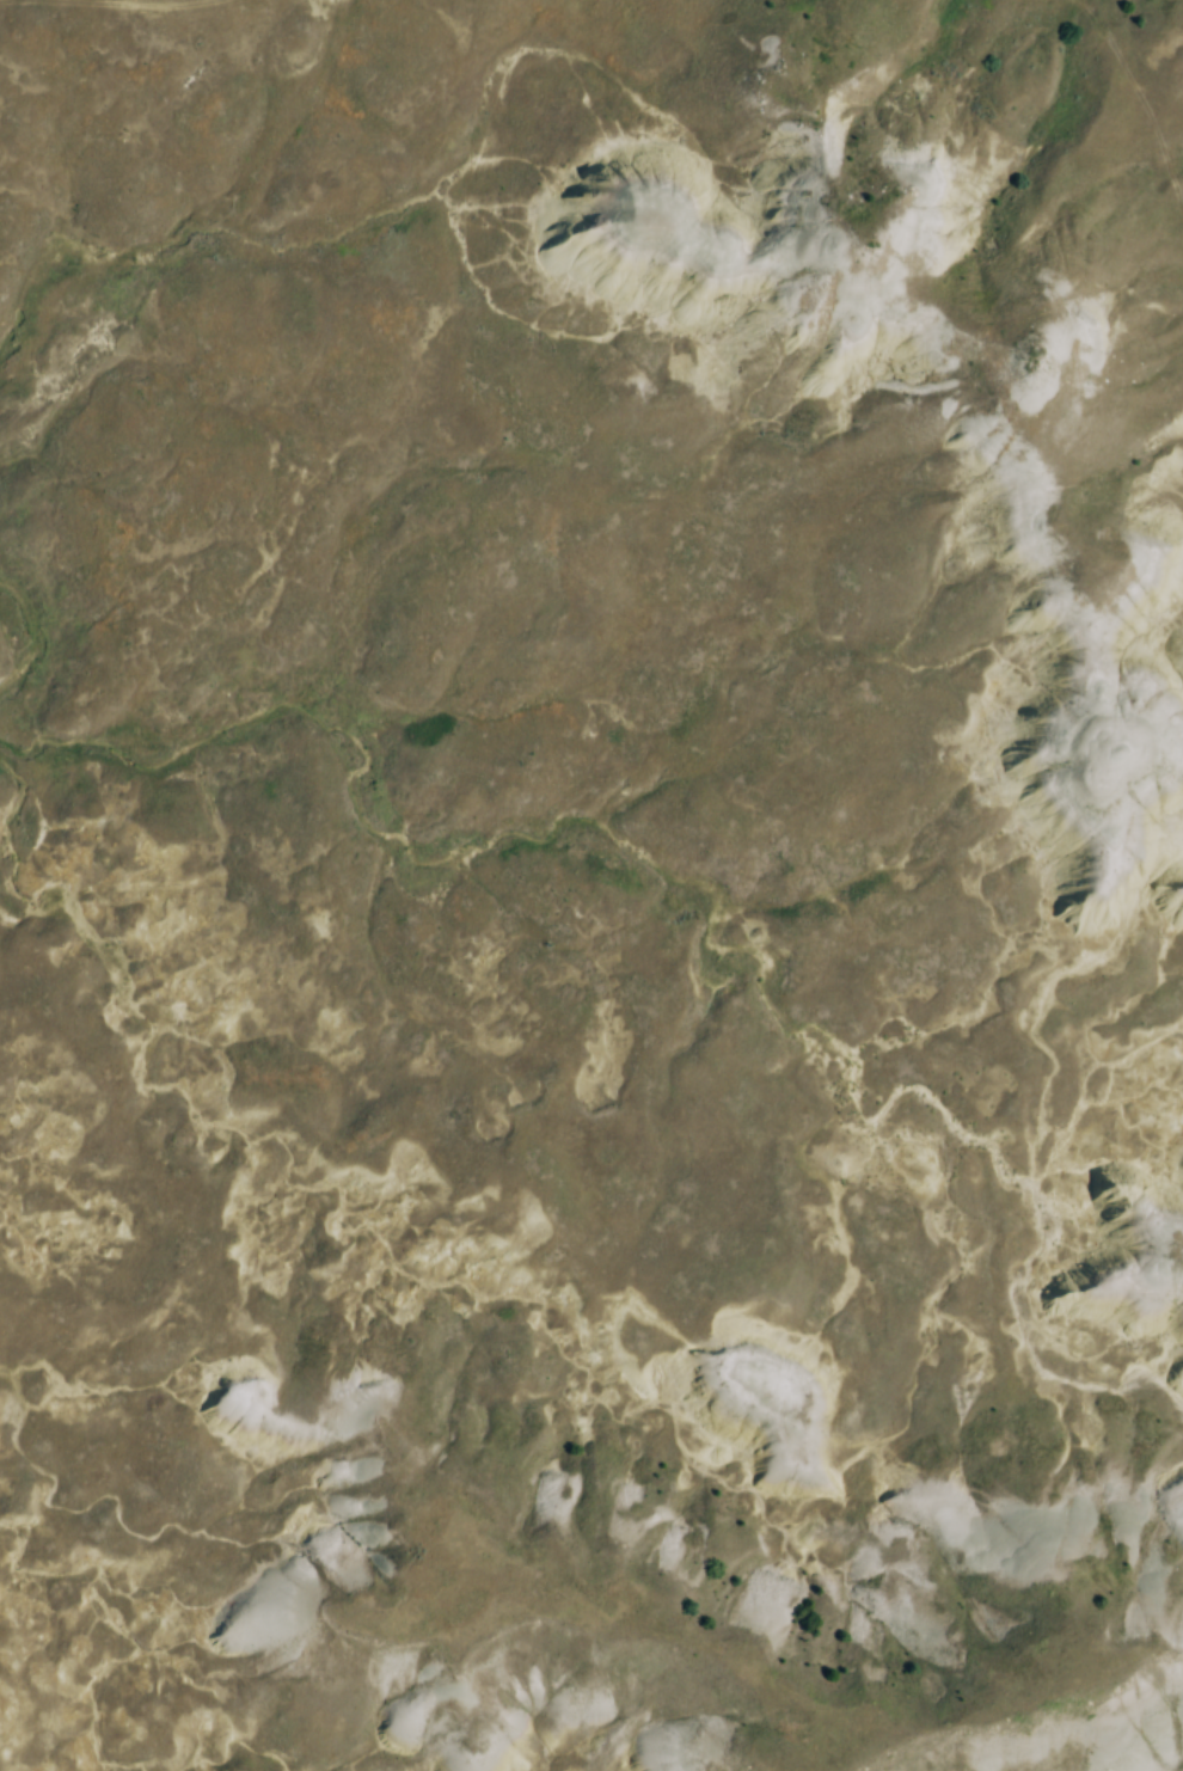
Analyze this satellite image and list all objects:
road: (103, 2)
road: (1141, 97)

